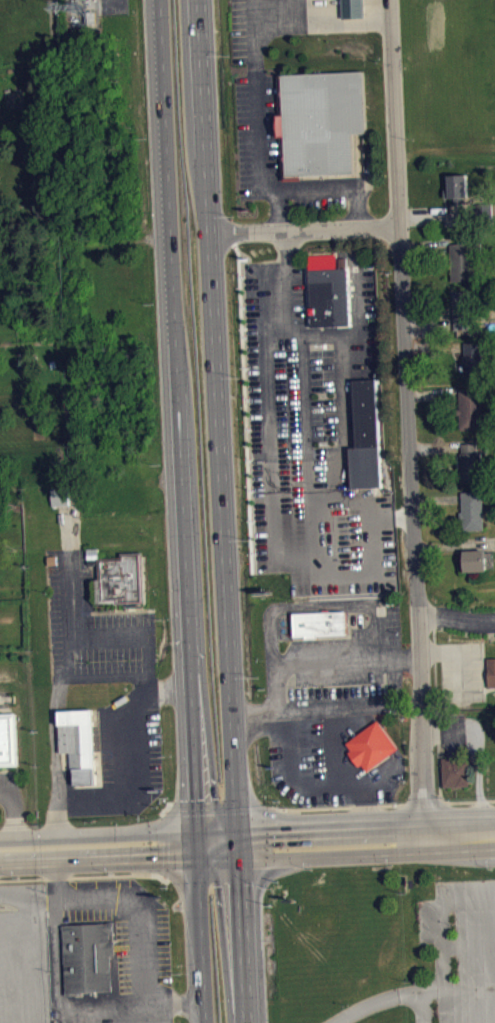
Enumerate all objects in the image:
road: (375, 0)
road: (352, 1)
road: (317, 3)
building: (352, 8)
road: (293, 12)
road: (320, 24)
parking lot: (253, 27)
building: (320, 121)
parking lot: (271, 150)
road: (257, 164)
building: (457, 185)
road: (278, 209)
road: (304, 229)
building: (464, 260)
building: (323, 303)
building: (465, 309)
road: (214, 349)
building: (474, 359)
building: (470, 408)
building: (366, 412)
road: (408, 416)
road: (305, 418)
building: (471, 461)
building: (62, 504)
building: (471, 510)
road: (184, 511)
building: (474, 560)
building: (122, 577)
road: (455, 620)
building: (320, 623)
parking lot: (91, 626)
road: (70, 633)
building: (491, 672)
road: (147, 682)
road: (53, 715)
building: (8, 739)
building: (81, 745)
building: (371, 745)
building: (457, 770)
parking lot: (9, 780)
road: (132, 794)
road: (14, 808)
road: (215, 827)
traffic signals: (235, 827)
traffic signals: (193, 828)
road: (461, 832)
traffic signals: (237, 859)
road: (215, 860)
road: (237, 860)
traffic signals: (195, 862)
road: (112, 875)
road: (27, 877)
road: (141, 906)
road: (34, 940)
parking lot: (135, 941)
parking lot: (23, 953)
building: (88, 956)
road: (442, 964)
road: (398, 1004)
road: (61, 1006)
road: (424, 1010)
road: (360, 1017)

